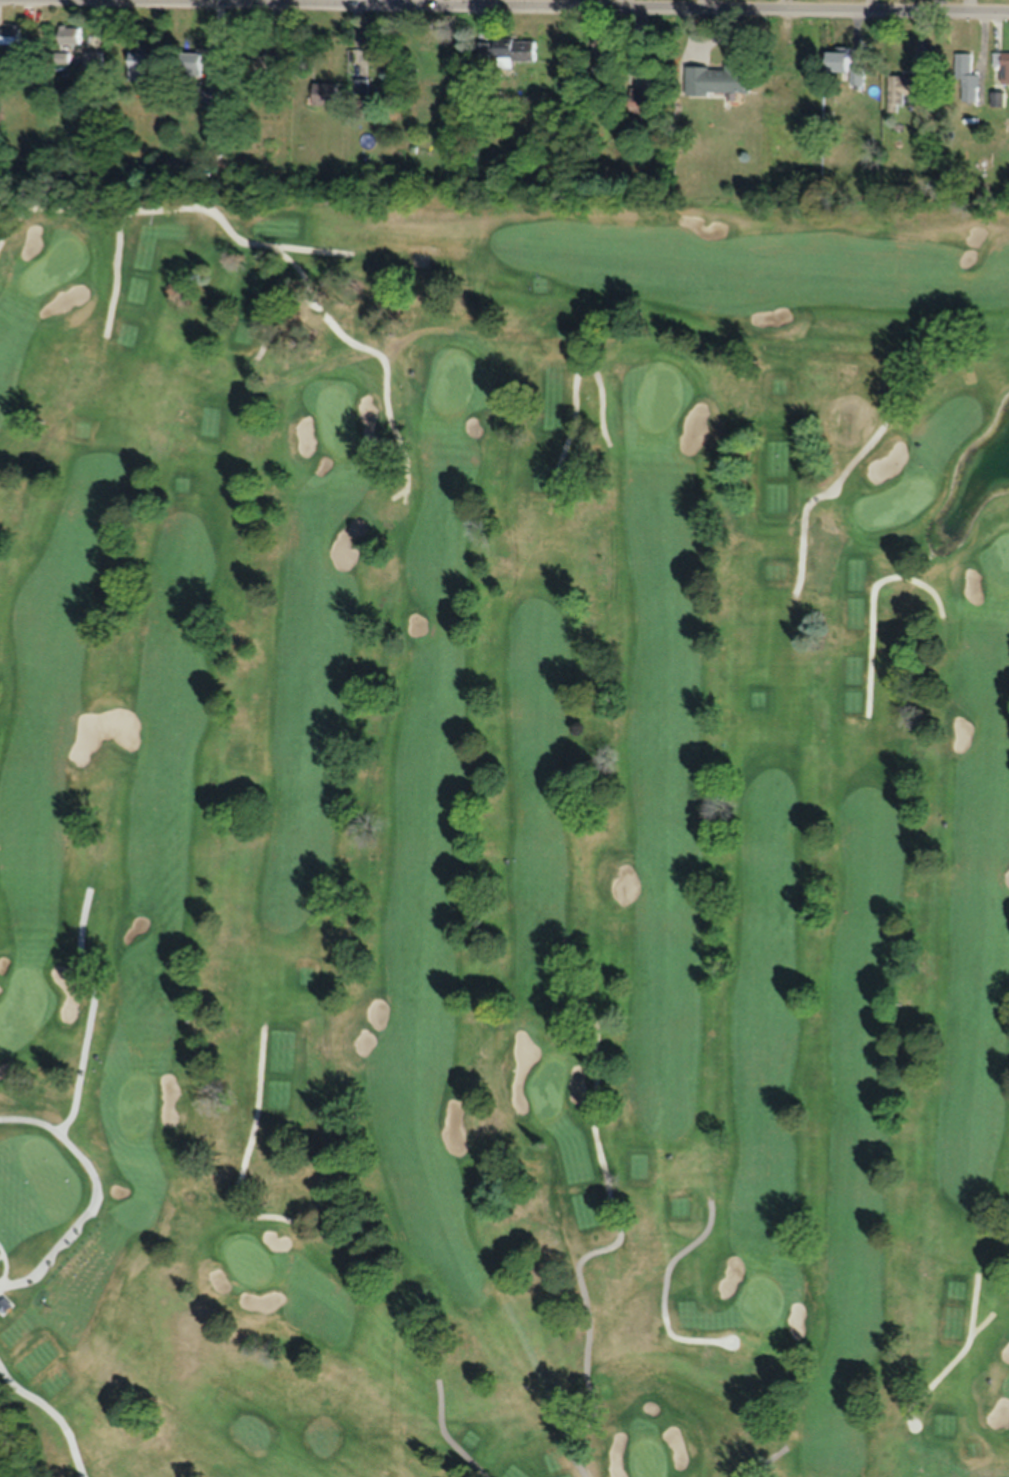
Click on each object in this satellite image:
road: (868, 3)
building: (69, 34)
building: (10, 36)
building: (374, 42)
building: (504, 49)
building: (61, 57)
building: (835, 59)
building: (94, 60)
building: (190, 63)
building: (258, 63)
building: (1001, 64)
building: (139, 65)
building: (857, 75)
building: (965, 76)
building: (716, 78)
building: (361, 85)
building: (898, 89)
building: (211, 91)
building: (323, 92)
building: (997, 97)
road: (119, 201)
road: (246, 241)
road: (319, 248)
park: (54, 266)
road: (270, 308)
park: (454, 377)
park: (662, 397)
park: (337, 419)
road: (566, 443)
park: (896, 501)
road: (790, 505)
park: (998, 565)
road: (884, 578)
park: (504, 829)
park: (25, 1002)
park: (1, 1043)
park: (549, 1087)
park: (138, 1105)
road: (243, 1111)
building: (33, 1201)
park: (248, 1259)
road: (60, 1261)
road: (701, 1299)
park: (763, 1302)
road: (587, 1325)
road: (444, 1436)
park: (650, 1459)

